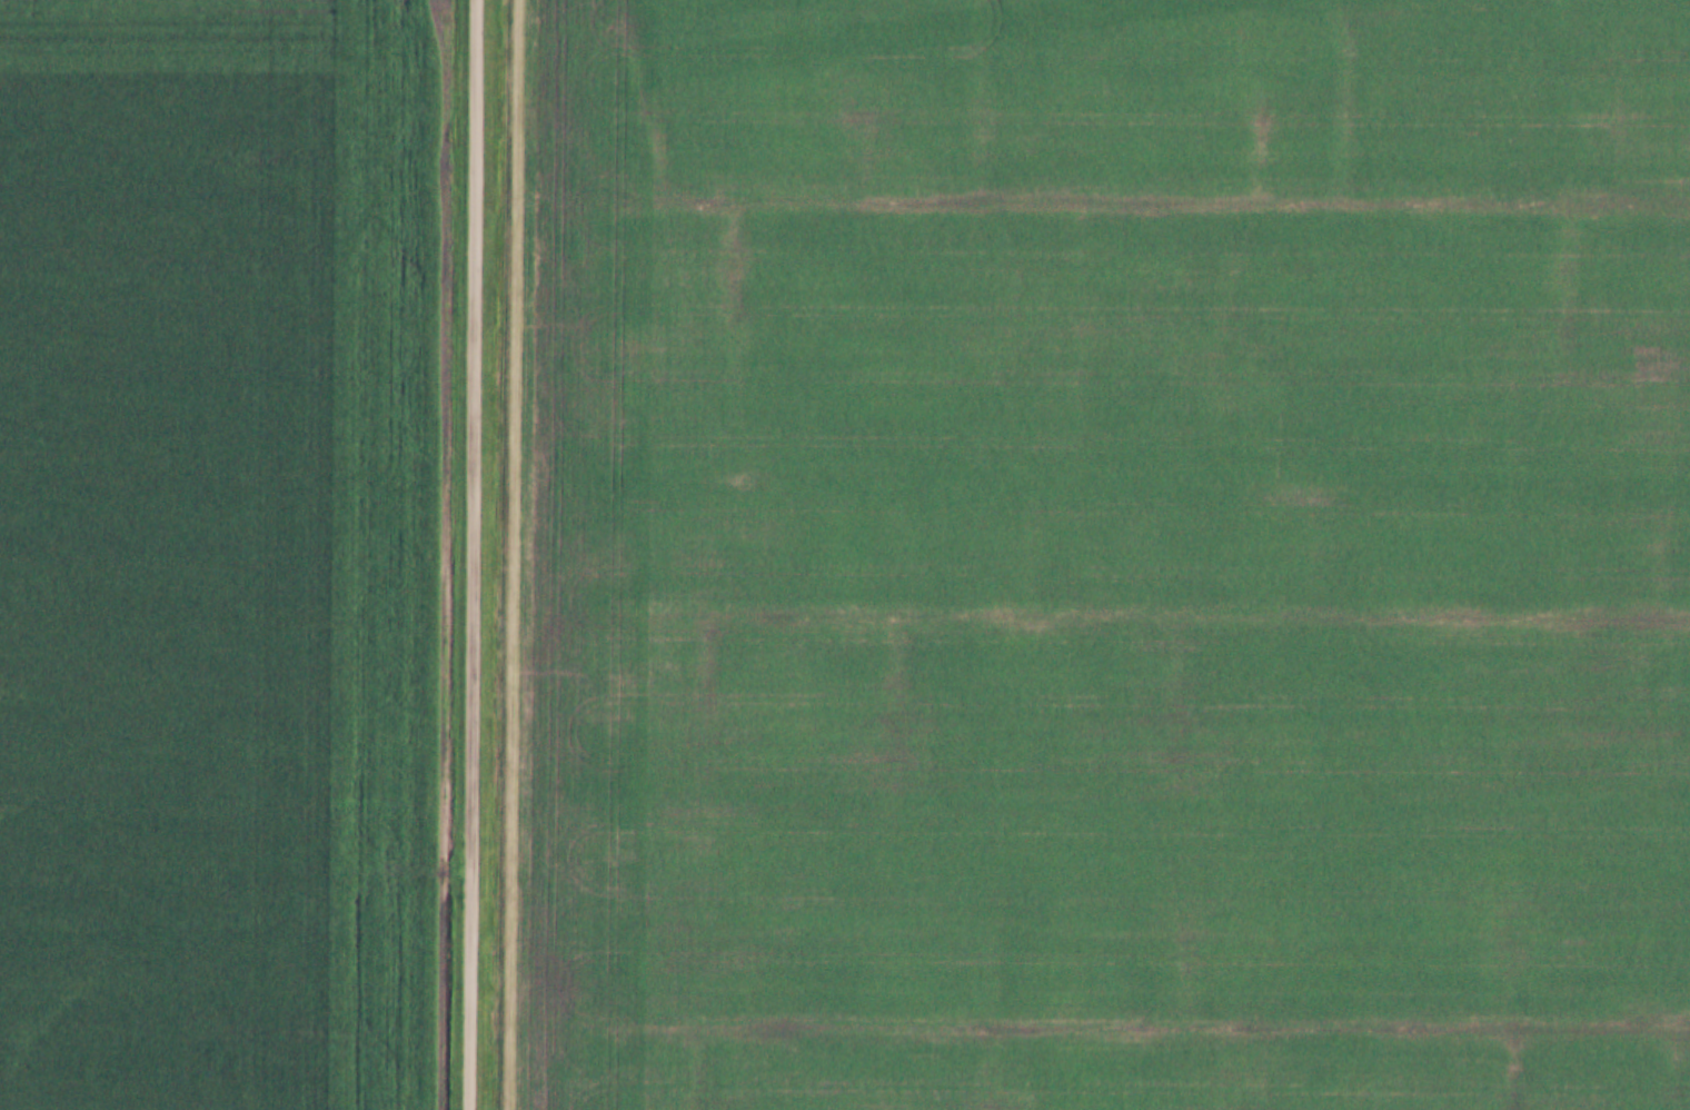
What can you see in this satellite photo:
road: (469, 555)

